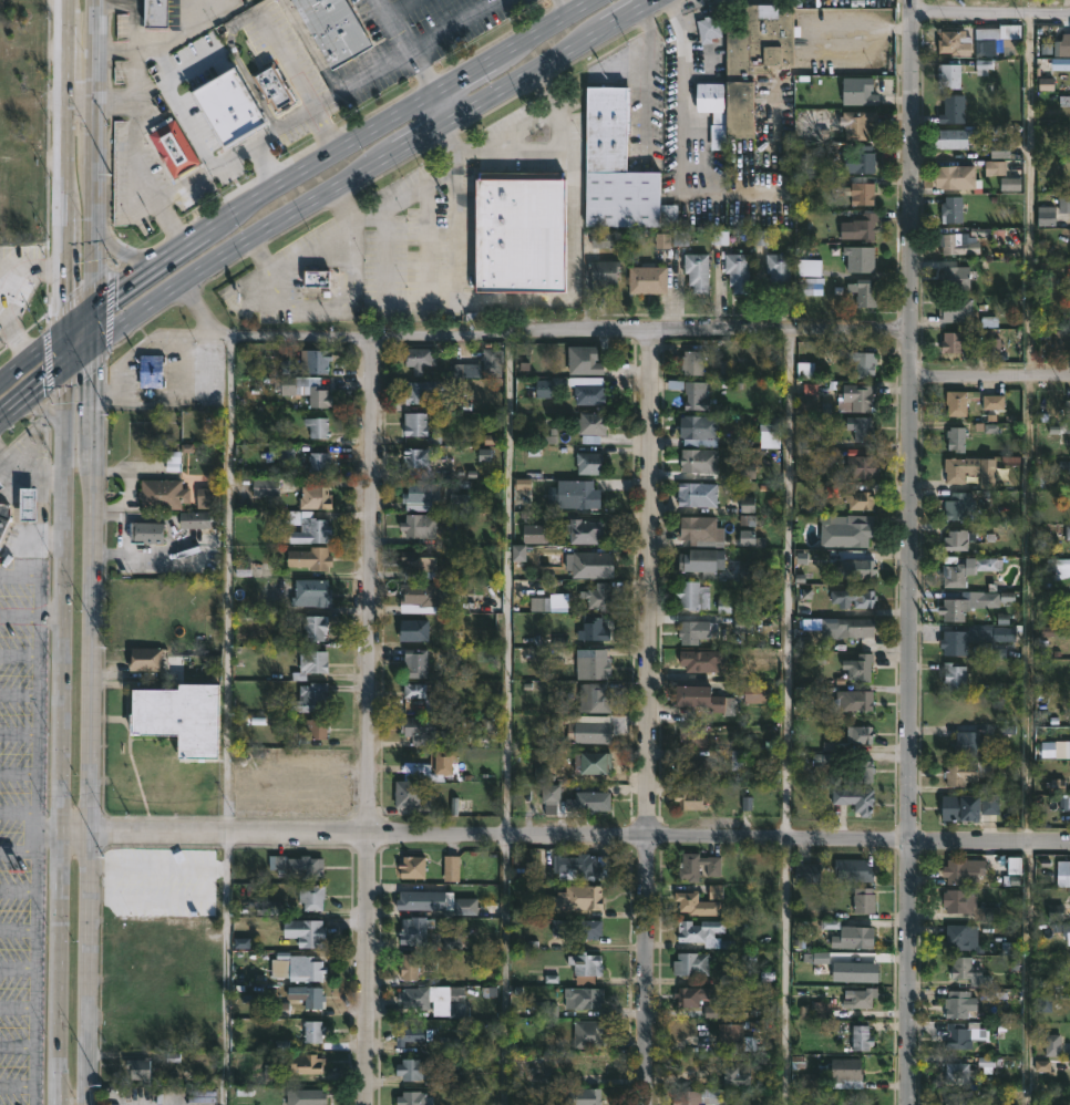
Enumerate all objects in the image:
road: (401, 7)
road: (568, 7)
road: (989, 11)
building: (156, 13)
road: (630, 16)
road: (452, 24)
road: (858, 24)
building: (335, 28)
building: (709, 28)
road: (547, 29)
building: (999, 39)
building: (951, 41)
road: (409, 47)
road: (114, 49)
building: (1068, 49)
road: (160, 55)
building: (755, 59)
road: (288, 65)
building: (949, 74)
road: (527, 75)
road: (469, 76)
building: (271, 85)
building: (856, 91)
building: (712, 99)
road: (76, 101)
road: (113, 101)
road: (178, 102)
road: (444, 107)
building: (953, 107)
building: (854, 122)
road: (325, 133)
road: (424, 137)
building: (948, 137)
road: (682, 145)
building: (174, 147)
road: (707, 153)
road: (93, 156)
building: (862, 159)
building: (611, 165)
road: (322, 166)
road: (267, 167)
road: (60, 169)
building: (959, 177)
road: (177, 188)
building: (860, 192)
building: (1068, 207)
building: (949, 209)
road: (290, 219)
road: (173, 225)
building: (860, 227)
building: (519, 231)
building: (601, 241)
building: (953, 242)
road: (127, 251)
building: (858, 258)
building: (807, 266)
building: (695, 271)
building: (738, 271)
building: (779, 271)
building: (601, 272)
road: (148, 273)
building: (953, 278)
building: (317, 279)
building: (645, 279)
road: (27, 291)
building: (865, 292)
building: (954, 309)
traffic signals: (92, 312)
road: (138, 317)
road: (73, 326)
building: (0, 328)
road: (92, 331)
road: (532, 332)
building: (1057, 338)
traffic signals: (55, 340)
road: (17, 341)
building: (954, 341)
road: (142, 347)
traffic signals: (93, 350)
road: (55, 359)
building: (418, 359)
building: (315, 360)
building: (585, 360)
building: (492, 361)
building: (690, 361)
road: (28, 363)
road: (74, 363)
building: (863, 363)
building: (150, 373)
road: (988, 376)
traffic signals: (55, 378)
building: (307, 389)
building: (588, 389)
building: (421, 391)
building: (692, 394)
building: (857, 397)
road: (27, 401)
building: (958, 403)
building: (994, 403)
building: (1067, 404)
road: (907, 419)
building: (591, 423)
building: (414, 424)
building: (858, 427)
building: (318, 428)
building: (698, 430)
building: (956, 438)
building: (418, 457)
building: (699, 459)
building: (589, 462)
building: (319, 463)
building: (858, 466)
road: (27, 468)
building: (974, 471)
building: (0, 487)
building: (263, 487)
building: (161, 494)
building: (585, 494)
building: (698, 494)
building: (421, 495)
building: (315, 496)
building: (207, 497)
building: (862, 499)
building: (23, 504)
gas station: (23, 504)
road: (40, 504)
building: (959, 506)
building: (3, 515)
building: (194, 519)
road: (121, 523)
building: (305, 526)
building: (420, 526)
building: (850, 528)
building: (701, 530)
building: (144, 531)
building: (585, 531)
building: (1068, 533)
road: (20, 535)
building: (536, 535)
building: (954, 540)
road: (144, 551)
road: (1028, 552)
building: (310, 558)
building: (701, 560)
building: (419, 564)
building: (591, 564)
building: (853, 568)
building: (1062, 568)
road: (19, 575)
building: (956, 576)
building: (311, 592)
building: (693, 595)
building: (425, 596)
building: (598, 596)
building: (851, 597)
building: (968, 603)
road: (48, 615)
building: (315, 626)
building: (851, 627)
building: (593, 628)
building: (414, 629)
building: (1063, 630)
building: (695, 631)
building: (963, 638)
building: (145, 658)
building: (415, 661)
building: (698, 661)
building: (311, 662)
building: (591, 665)
building: (858, 667)
building: (955, 674)
building: (757, 693)
building: (422, 695)
building: (311, 696)
building: (594, 698)
building: (708, 699)
building: (850, 701)
road: (35, 715)
road: (647, 716)
road: (788, 716)
road: (507, 719)
building: (181, 720)
road: (226, 721)
road: (366, 721)
road: (92, 726)
building: (318, 727)
building: (422, 730)
building: (590, 731)
building: (693, 734)
building: (858, 734)
road: (59, 741)
building: (970, 742)
building: (435, 765)
building: (591, 765)
building: (695, 770)
building: (967, 771)
building: (858, 772)
building: (177, 785)
building: (408, 793)
building: (551, 798)
building: (690, 798)
building: (854, 799)
building: (589, 802)
building: (1066, 802)
building: (970, 806)
road: (75, 830)
road: (498, 834)
road: (988, 839)
building: (584, 865)
building: (697, 866)
building: (307, 867)
building: (413, 867)
building: (1069, 867)
building: (452, 869)
building: (851, 870)
building: (805, 872)
building: (963, 872)
building: (311, 897)
building: (585, 898)
building: (420, 899)
building: (863, 900)
building: (967, 903)
building: (696, 905)
building: (465, 906)
building: (577, 927)
building: (414, 930)
building: (305, 932)
building: (703, 932)
building: (963, 937)
building: (855, 938)
building: (689, 964)
road: (33, 967)
building: (407, 967)
building: (584, 967)
building: (308, 968)
building: (966, 971)
road: (908, 972)
building: (865, 974)
building: (425, 995)
building: (308, 996)
building: (691, 996)
building: (584, 998)
building: (856, 998)
building: (959, 1004)
building: (313, 1031)
building: (589, 1033)
building: (958, 1034)
building: (412, 1035)
building: (738, 1035)
building: (863, 1040)
building: (307, 1065)
building: (569, 1066)
building: (413, 1067)
building: (138, 1068)
building: (961, 1073)
building: (833, 1074)
building: (732, 1076)
building: (305, 1096)
building: (579, 1096)
building: (697, 1097)
building: (956, 1097)
building: (414, 1098)

